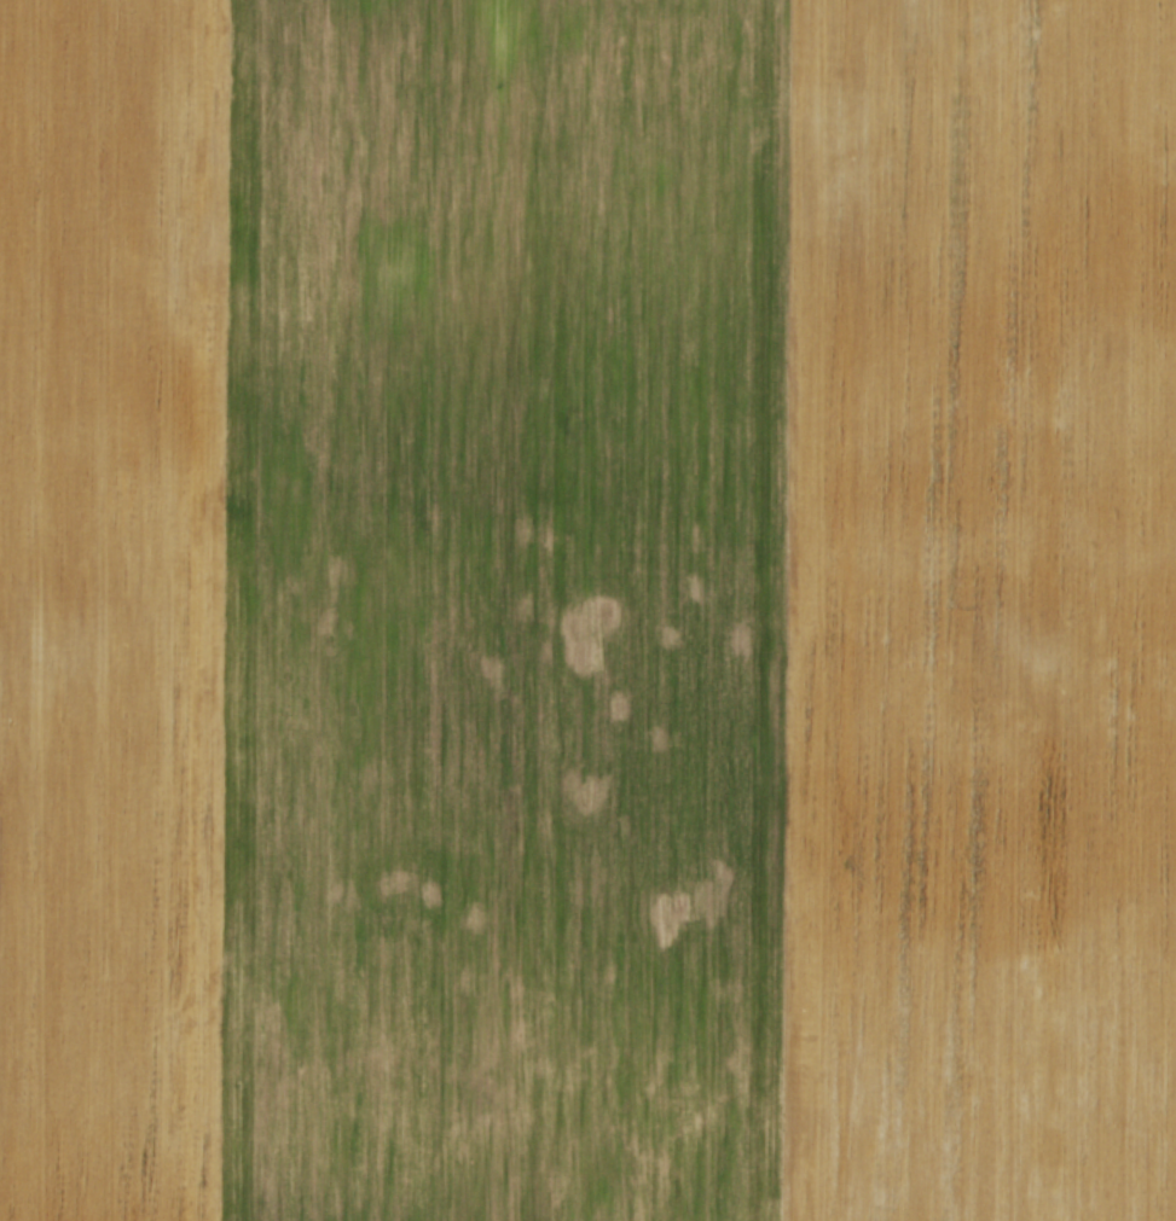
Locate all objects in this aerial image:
crop: (587, 610)

